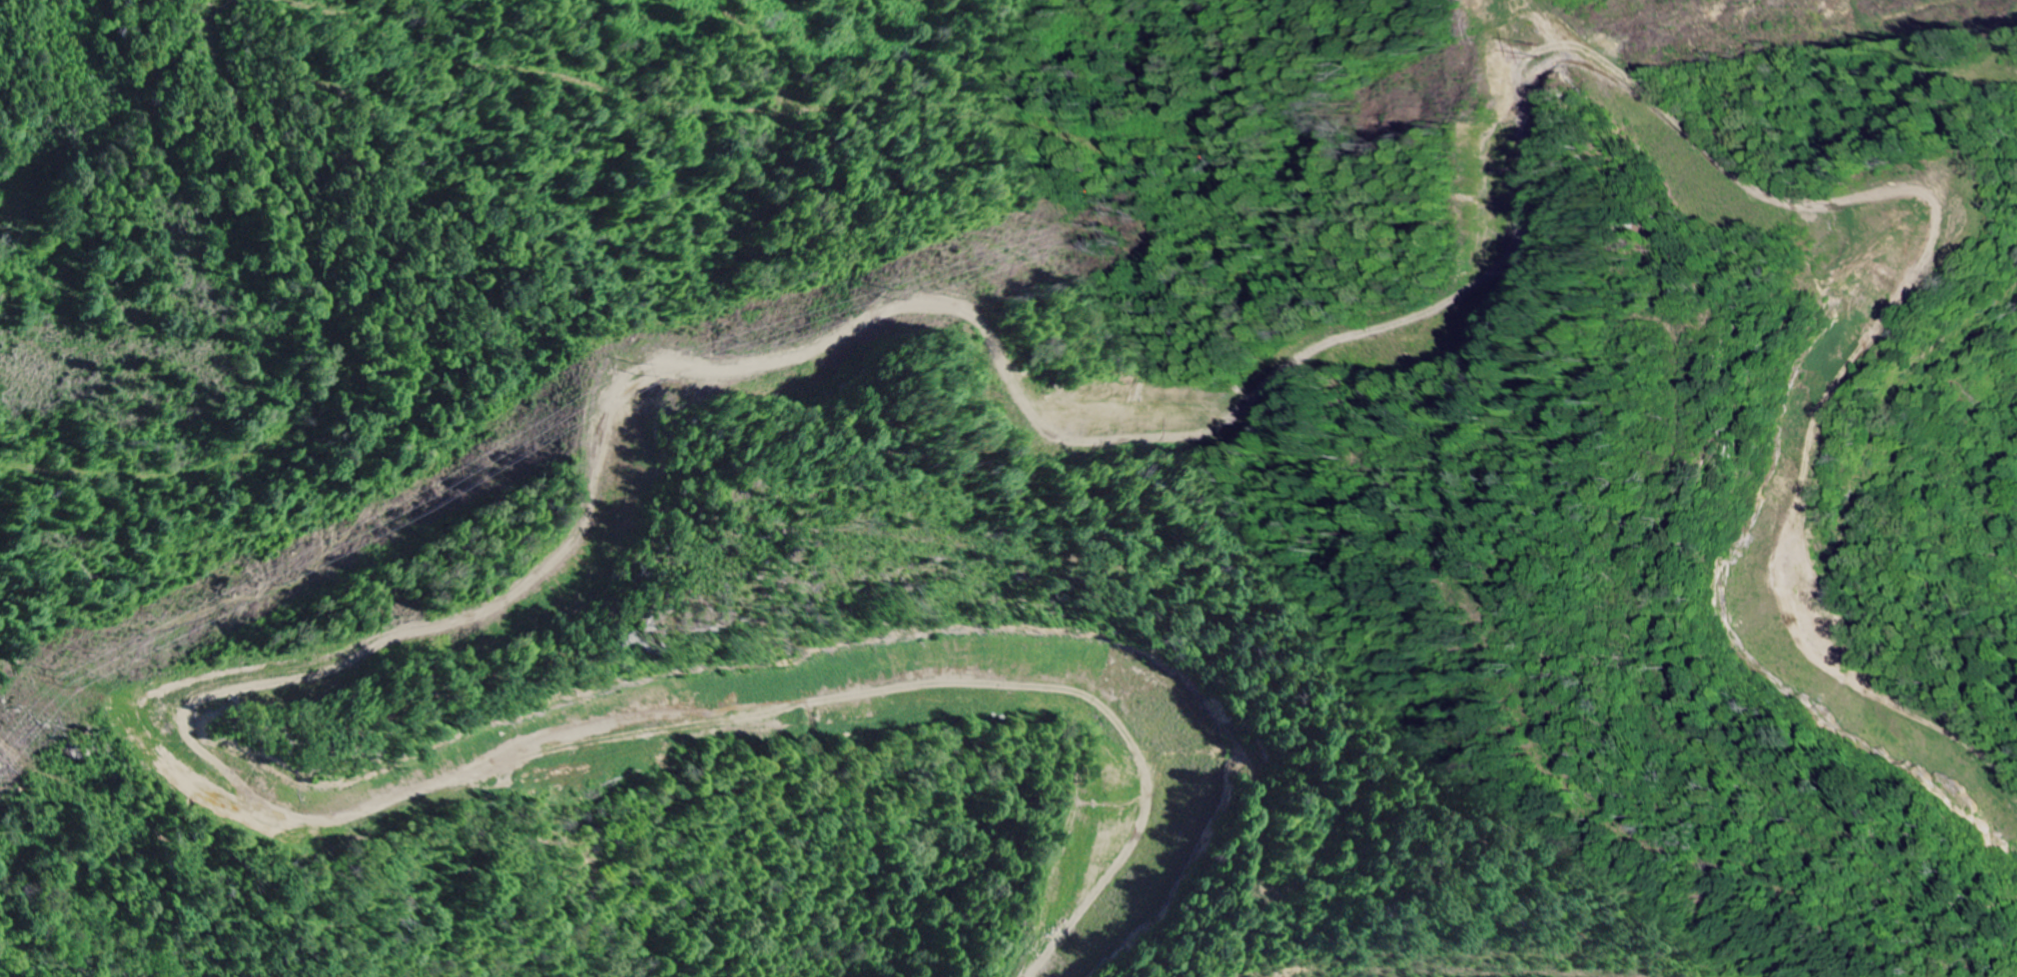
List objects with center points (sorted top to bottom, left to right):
power tower: (1537, 55)
power tower: (645, 379)
power tower: (64, 686)

